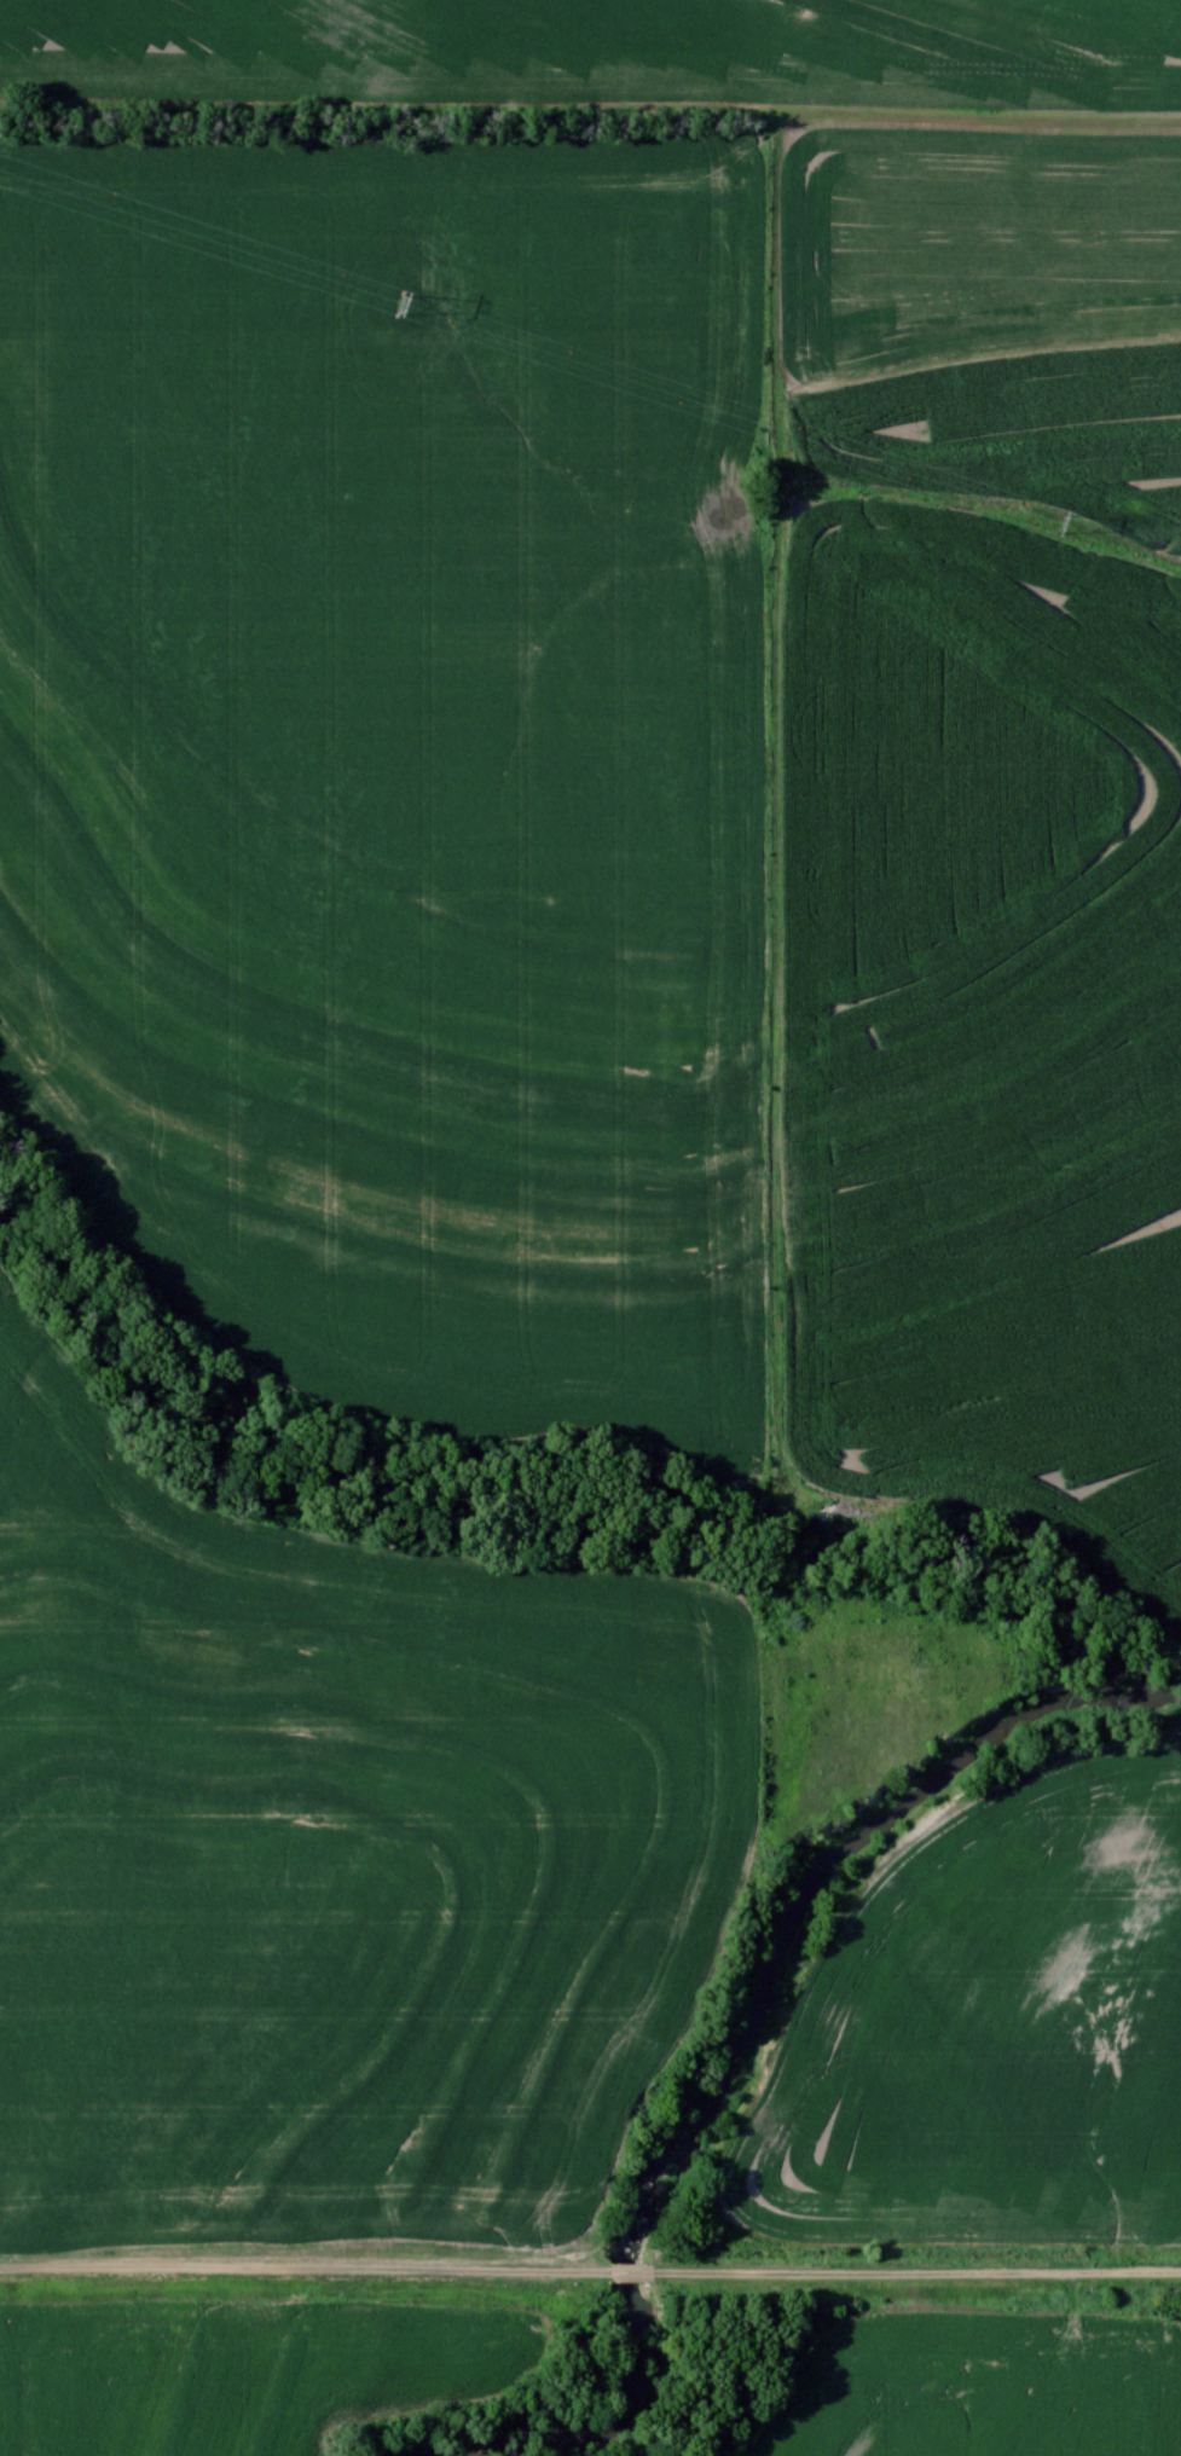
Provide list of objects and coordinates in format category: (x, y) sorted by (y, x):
power tower: (398, 308)
power tower: (1054, 526)
road: (300, 2269)
road: (627, 2270)
road: (919, 2271)

